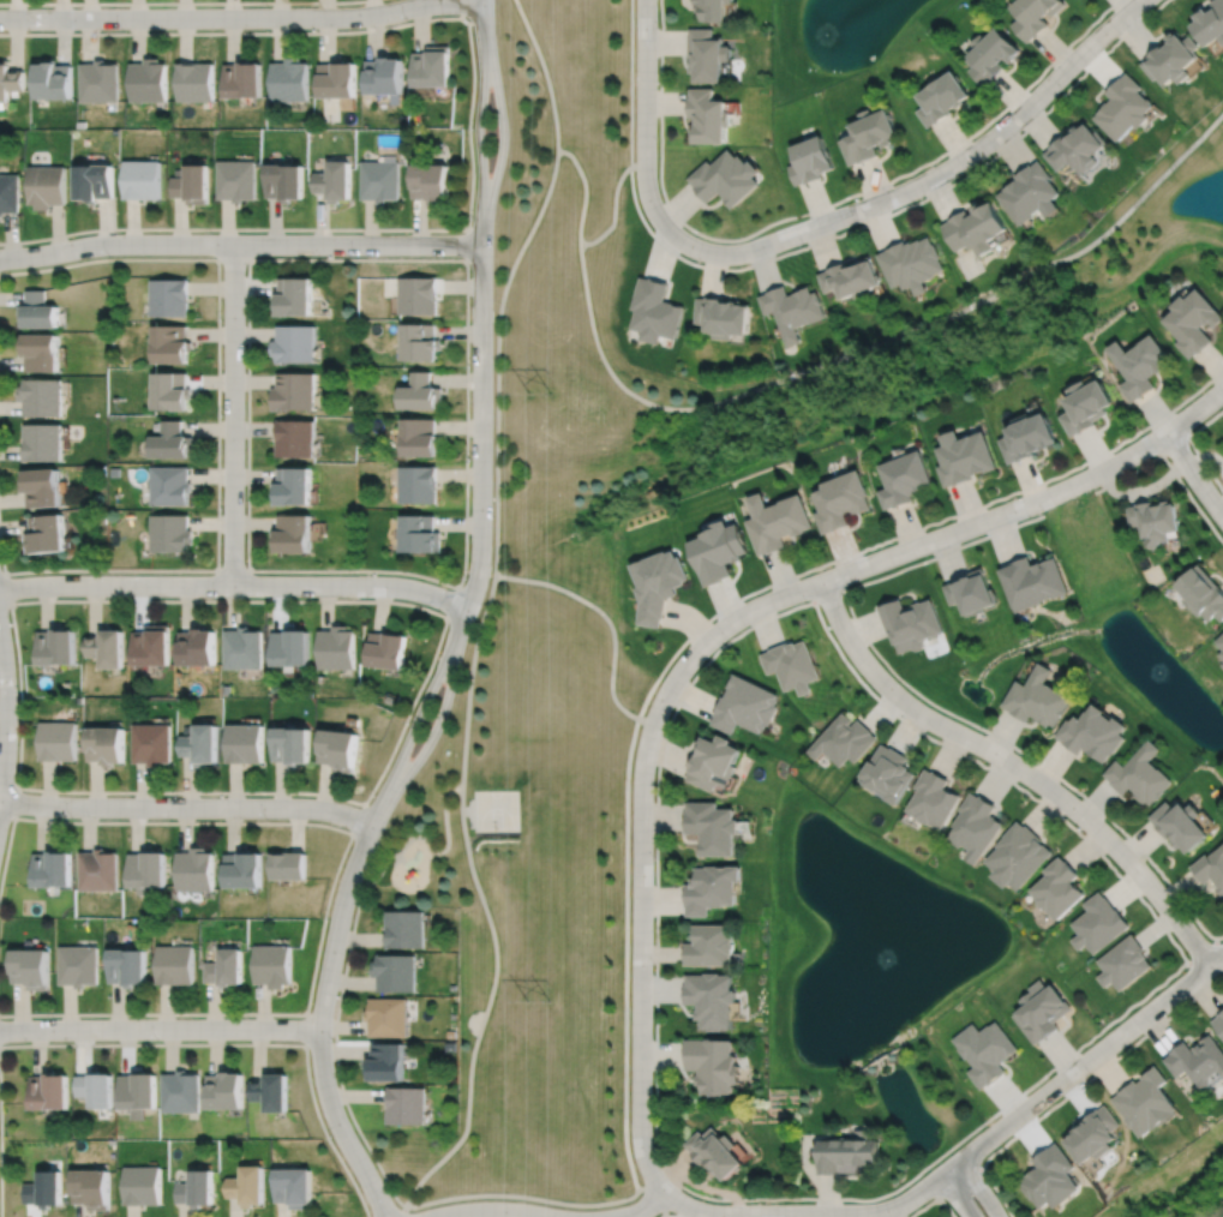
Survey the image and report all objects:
road: (182, 2)
road: (461, 8)
building: (712, 10)
road: (484, 14)
building: (1033, 16)
road: (242, 18)
building: (1209, 25)
fountain: (831, 28)
building: (706, 55)
building: (990, 55)
building: (1170, 60)
building: (432, 68)
road: (545, 72)
building: (383, 77)
building: (241, 80)
building: (288, 80)
building: (335, 80)
building: (10, 82)
building: (50, 82)
building: (97, 82)
building: (146, 82)
road: (630, 82)
building: (193, 83)
building: (941, 100)
building: (1122, 109)
building: (707, 118)
road: (645, 122)
road: (468, 125)
building: (868, 136)
road: (479, 137)
road: (503, 137)
building: (1074, 150)
building: (809, 161)
road: (931, 176)
building: (725, 180)
building: (142, 181)
building: (236, 181)
building: (379, 181)
building: (283, 182)
building: (334, 182)
building: (94, 184)
building: (430, 185)
building: (191, 186)
building: (46, 187)
road: (586, 190)
building: (1031, 191)
building: (8, 194)
road: (816, 209)
road: (899, 209)
road: (613, 211)
building: (976, 224)
road: (240, 244)
road: (467, 244)
road: (233, 259)
building: (911, 260)
building: (850, 276)
building: (418, 294)
building: (168, 296)
building: (294, 299)
building: (792, 306)
building: (38, 308)
building: (654, 310)
building: (721, 314)
building: (1193, 319)
park: (925, 338)
building: (419, 340)
road: (876, 341)
building: (172, 342)
building: (295, 342)
building: (42, 350)
road: (497, 356)
building: (1140, 362)
building: (172, 389)
building: (294, 390)
building: (420, 391)
power tower: (539, 392)
building: (42, 396)
building: (1087, 403)
road: (233, 414)
road: (217, 426)
building: (419, 434)
building: (1027, 434)
building: (295, 437)
building: (172, 439)
building: (43, 440)
road: (480, 442)
road: (1173, 443)
road: (1192, 443)
road: (1174, 444)
building: (964, 455)
building: (904, 478)
building: (416, 482)
building: (293, 484)
building: (170, 485)
building: (44, 486)
building: (840, 499)
building: (1156, 518)
building: (775, 520)
road: (917, 528)
building: (170, 532)
building: (294, 532)
building: (47, 533)
building: (419, 533)
road: (906, 548)
building: (718, 550)
road: (232, 570)
road: (462, 576)
building: (1033, 581)
building: (659, 583)
road: (235, 584)
road: (6, 588)
building: (971, 590)
road: (831, 592)
building: (1203, 592)
road: (452, 601)
building: (911, 622)
road: (858, 624)
building: (1221, 640)
building: (58, 646)
building: (152, 646)
building: (108, 647)
building: (196, 647)
building: (289, 647)
building: (241, 648)
building: (335, 648)
building: (386, 649)
building: (1222, 654)
building: (791, 665)
fountain: (1158, 675)
road: (469, 678)
park: (540, 682)
building: (1038, 697)
building: (747, 705)
road: (7, 717)
road: (410, 729)
building: (1095, 733)
road: (430, 737)
building: (844, 741)
building: (59, 742)
building: (154, 744)
building: (200, 744)
building: (244, 744)
building: (107, 745)
building: (290, 745)
building: (338, 749)
road: (390, 754)
building: (715, 763)
road: (1018, 766)
road: (994, 771)
building: (888, 773)
building: (1143, 775)
building: (934, 799)
road: (14, 801)
road: (472, 804)
road: (187, 807)
park: (496, 809)
road: (472, 813)
building: (1182, 825)
building: (977, 827)
building: (714, 828)
road: (431, 843)
building: (1019, 856)
building: (287, 867)
building: (1211, 868)
building: (53, 869)
building: (100, 870)
building: (193, 870)
building: (241, 870)
road: (336, 870)
building: (145, 871)
building: (713, 889)
building: (1060, 889)
building: (1099, 924)
building: (406, 930)
road: (641, 941)
building: (713, 947)
road: (1205, 949)
fountain: (886, 957)
road: (624, 959)
building: (1125, 964)
building: (79, 966)
building: (174, 966)
building: (271, 966)
building: (128, 967)
building: (32, 969)
building: (224, 970)
building: (395, 973)
building: (452, 987)
power tower: (539, 999)
building: (713, 999)
building: (1042, 1009)
building: (386, 1017)
building: (1218, 1019)
road: (320, 1025)
road: (160, 1029)
road: (306, 1029)
building: (451, 1033)
road: (246, 1043)
building: (450, 1045)
building: (985, 1049)
dam: (880, 1057)
building: (1197, 1057)
building: (386, 1059)
road: (1086, 1060)
building: (714, 1062)
building: (96, 1086)
road: (1078, 1086)
building: (49, 1089)
building: (223, 1089)
building: (270, 1089)
building: (138, 1090)
building: (180, 1090)
building: (1147, 1099)
building: (406, 1103)
building: (1095, 1132)
building: (717, 1149)
building: (849, 1151)
road: (0, 1158)
building: (1051, 1175)
road: (959, 1179)
building: (143, 1183)
building: (246, 1183)
building: (92, 1185)
building: (293, 1185)
building: (46, 1187)
building: (194, 1187)
road: (979, 1187)
road: (957, 1194)
road: (653, 1198)
road: (934, 1199)
road: (404, 1205)
road: (492, 1211)
road: (395, 1213)
road: (784, 1213)
road: (669, 1216)

